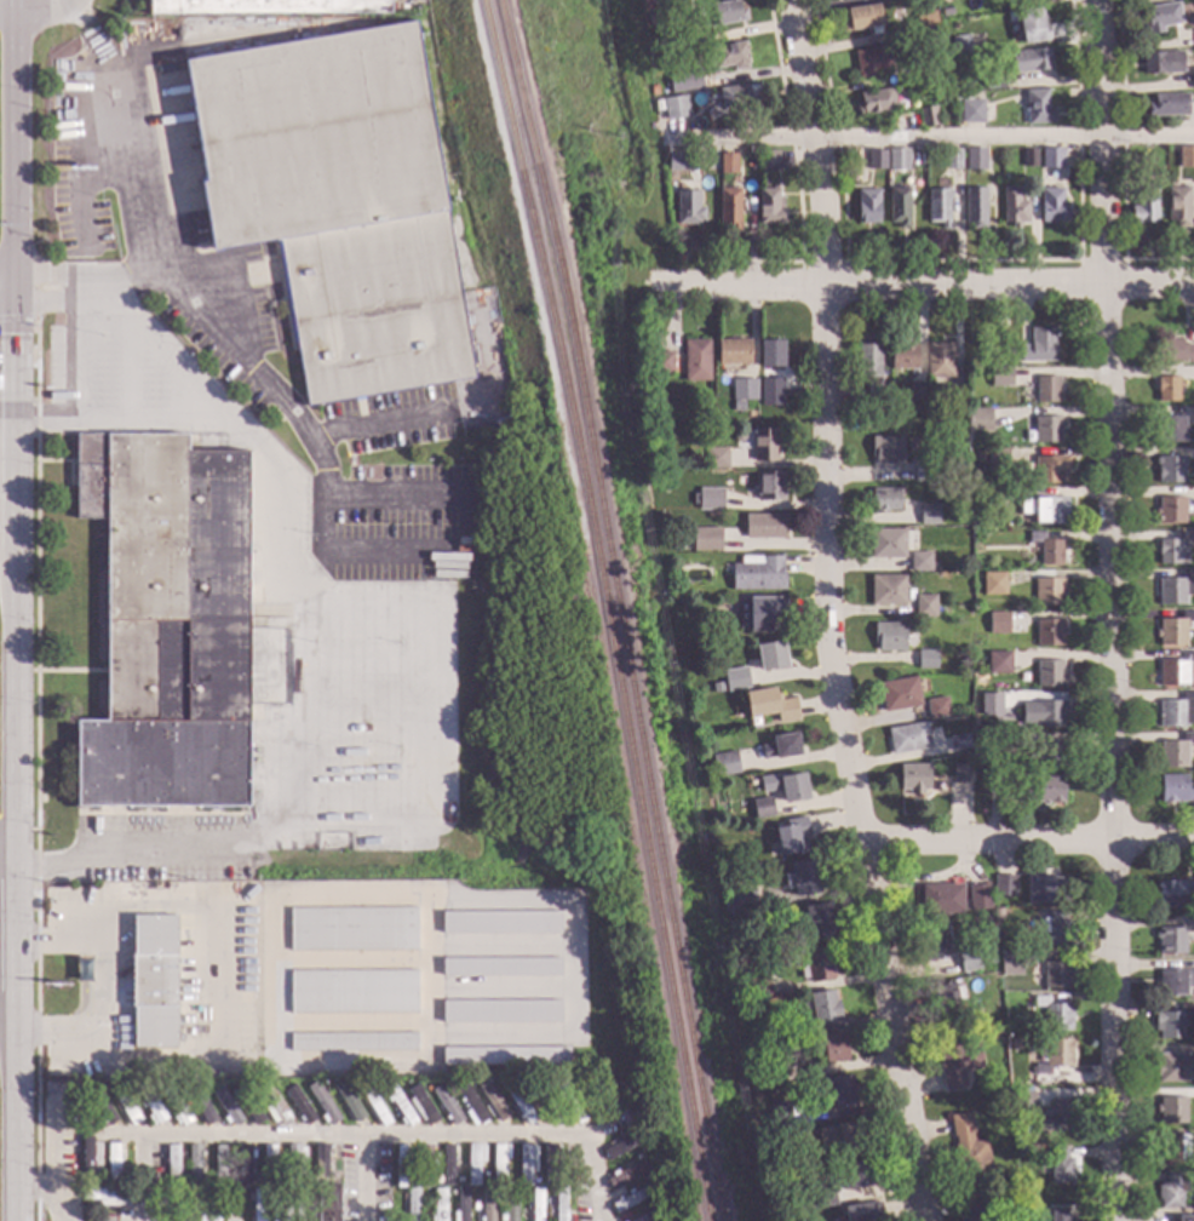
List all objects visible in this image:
building: (266, 6)
building: (926, 6)
building: (947, 11)
road: (39, 12)
building: (725, 13)
building: (1161, 17)
road: (75, 18)
building: (862, 18)
building: (654, 21)
building: (926, 22)
building: (1032, 27)
road: (90, 33)
building: (978, 36)
building: (961, 45)
building: (728, 56)
building: (1032, 59)
building: (871, 61)
building: (1164, 63)
building: (1193, 79)
building: (685, 81)
building: (994, 81)
building: (948, 91)
building: (655, 92)
building: (740, 97)
building: (966, 98)
building: (874, 102)
building: (1170, 104)
building: (676, 108)
building: (1039, 108)
building: (972, 111)
building: (928, 115)
building: (728, 119)
building: (662, 122)
road: (928, 137)
road: (811, 142)
road: (128, 149)
building: (769, 157)
building: (1029, 157)
building: (1052, 157)
building: (1187, 157)
building: (877, 159)
building: (899, 159)
building: (952, 159)
building: (976, 159)
building: (678, 161)
building: (728, 164)
building: (764, 166)
building: (1163, 180)
building: (338, 202)
building: (1054, 205)
building: (770, 206)
building: (938, 206)
building: (1146, 206)
building: (688, 207)
building: (729, 207)
building: (868, 207)
building: (899, 207)
building: (976, 207)
building: (1179, 207)
building: (1015, 208)
road: (1009, 285)
road: (741, 286)
road: (7, 297)
traffic signals: (16, 298)
road: (16, 317)
road: (222, 333)
building: (1039, 345)
road: (167, 348)
building: (1173, 350)
building: (734, 351)
building: (1009, 351)
building: (771, 352)
building: (903, 357)
building: (696, 361)
building: (940, 361)
building: (661, 363)
building: (675, 365)
building: (871, 372)
parking lot: (121, 378)
building: (1001, 378)
building: (744, 389)
building: (1047, 389)
building: (1169, 389)
building: (917, 391)
building: (771, 392)
building: (955, 397)
building: (983, 401)
building: (737, 407)
building: (1193, 415)
building: (978, 419)
building: (912, 423)
building: (1046, 429)
building: (1170, 429)
building: (736, 435)
building: (966, 438)
building: (976, 438)
building: (764, 445)
building: (886, 451)
building: (716, 458)
building: (977, 458)
building: (997, 458)
building: (1170, 469)
building: (1050, 470)
building: (924, 471)
building: (770, 486)
building: (974, 491)
building: (710, 499)
building: (884, 499)
building: (987, 500)
building: (1045, 510)
building: (1170, 510)
building: (929, 514)
building: (1014, 526)
building: (764, 527)
building: (705, 539)
building: (886, 543)
building: (675, 545)
building: (1046, 549)
building: (1173, 549)
building: (919, 562)
building: (1193, 562)
building: (757, 574)
building: (993, 585)
building: (1176, 589)
building: (886, 591)
building: (1047, 592)
building: (662, 594)
building: (924, 607)
railway: (603, 608)
railway: (615, 608)
road: (1108, 609)
road: (15, 610)
building: (758, 613)
building: (167, 623)
building: (998, 624)
building: (1173, 630)
building: (1049, 632)
building: (888, 636)
road: (299, 646)
building: (770, 657)
building: (926, 660)
building: (998, 663)
building: (1175, 670)
building: (1049, 673)
building: (735, 680)
building: (977, 682)
building: (717, 688)
building: (899, 694)
building: (989, 703)
building: (769, 705)
building: (936, 709)
building: (1177, 711)
building: (1041, 713)
building: (907, 738)
building: (958, 743)
building: (1001, 745)
building: (781, 746)
building: (1173, 752)
building: (1049, 755)
road: (844, 756)
building: (966, 757)
building: (724, 764)
building: (960, 774)
building: (913, 779)
building: (785, 786)
building: (1175, 789)
building: (1043, 791)
building: (762, 808)
building: (791, 836)
road: (1028, 839)
road: (7, 859)
building: (802, 877)
building: (1004, 887)
building: (322, 889)
building: (1044, 889)
building: (1173, 893)
building: (978, 898)
building: (941, 900)
building: (741, 901)
building: (997, 913)
building: (500, 922)
building: (817, 922)
building: (1193, 923)
building: (351, 929)
building: (1055, 929)
road: (36, 936)
building: (1170, 941)
building: (740, 944)
building: (936, 944)
building: (972, 958)
building: (1010, 963)
building: (815, 965)
building: (500, 968)
road: (578, 970)
building: (1056, 975)
road: (225, 981)
building: (153, 982)
building: (1175, 982)
building: (754, 988)
building: (352, 992)
building: (945, 997)
building: (823, 1008)
building: (500, 1013)
building: (1054, 1014)
building: (1175, 1024)
building: (759, 1027)
building: (998, 1030)
road: (39, 1033)
building: (352, 1042)
building: (833, 1048)
building: (1054, 1055)
building: (504, 1056)
building: (957, 1065)
building: (1175, 1068)
building: (771, 1072)
building: (998, 1080)
building: (1011, 1084)
building: (1020, 1084)
building: (503, 1085)
building: (450, 1087)
building: (377, 1088)
building: (427, 1088)
building: (526, 1089)
building: (840, 1093)
building: (183, 1094)
building: (1023, 1100)
building: (149, 1104)
building: (349, 1104)
building: (568, 1104)
building: (248, 1105)
building: (299, 1105)
building: (322, 1105)
building: (373, 1105)
building: (446, 1105)
building: (471, 1105)
building: (495, 1105)
building: (518, 1105)
building: (592, 1105)
building: (616, 1105)
building: (1004, 1105)
building: (125, 1106)
building: (225, 1106)
building: (272, 1106)
building: (398, 1106)
building: (420, 1106)
building: (547, 1106)
building: (101, 1107)
building: (176, 1107)
building: (200, 1107)
building: (92, 1110)
building: (631, 1110)
building: (1171, 1110)
building: (779, 1114)
building: (1057, 1116)
building: (803, 1130)
building: (621, 1136)
building: (838, 1137)
road: (354, 1139)
building: (1022, 1140)
building: (622, 1146)
building: (1172, 1148)
building: (1020, 1150)
building: (969, 1152)
building: (635, 1154)
building: (90, 1158)
building: (320, 1160)
building: (473, 1163)
building: (498, 1163)
building: (550, 1163)
building: (111, 1164)
building: (294, 1164)
building: (526, 1164)
building: (172, 1165)
building: (193, 1165)
building: (243, 1165)
building: (268, 1165)
building: (398, 1165)
building: (447, 1165)
building: (424, 1166)
building: (1060, 1166)
building: (219, 1168)
building: (484, 1175)
building: (857, 1175)
building: (303, 1176)
building: (627, 1176)
building: (203, 1177)
road: (598, 1179)
road: (143, 1180)
building: (182, 1180)
road: (368, 1180)
building: (458, 1180)
building: (507, 1181)
building: (534, 1181)
building: (97, 1182)
building: (229, 1182)
building: (641, 1183)
building: (1172, 1191)
building: (173, 1193)
building: (450, 1193)
building: (298, 1194)
building: (197, 1196)
building: (222, 1196)
building: (821, 1196)
road: (47, 1197)
building: (108, 1197)
building: (403, 1197)
building: (631, 1199)
building: (327, 1203)
building: (558, 1204)
building: (185, 1205)
building: (258, 1205)
building: (412, 1205)
building: (460, 1205)
building: (487, 1205)
building: (510, 1205)
building: (536, 1205)
building: (207, 1206)
building: (233, 1206)
building: (280, 1206)
building: (304, 1206)
building: (437, 1206)
building: (528, 1208)
building: (986, 1209)
building: (862, 1213)
building: (1058, 1215)
building: (647, 1217)
building: (107, 1219)
building: (1182, 1219)

